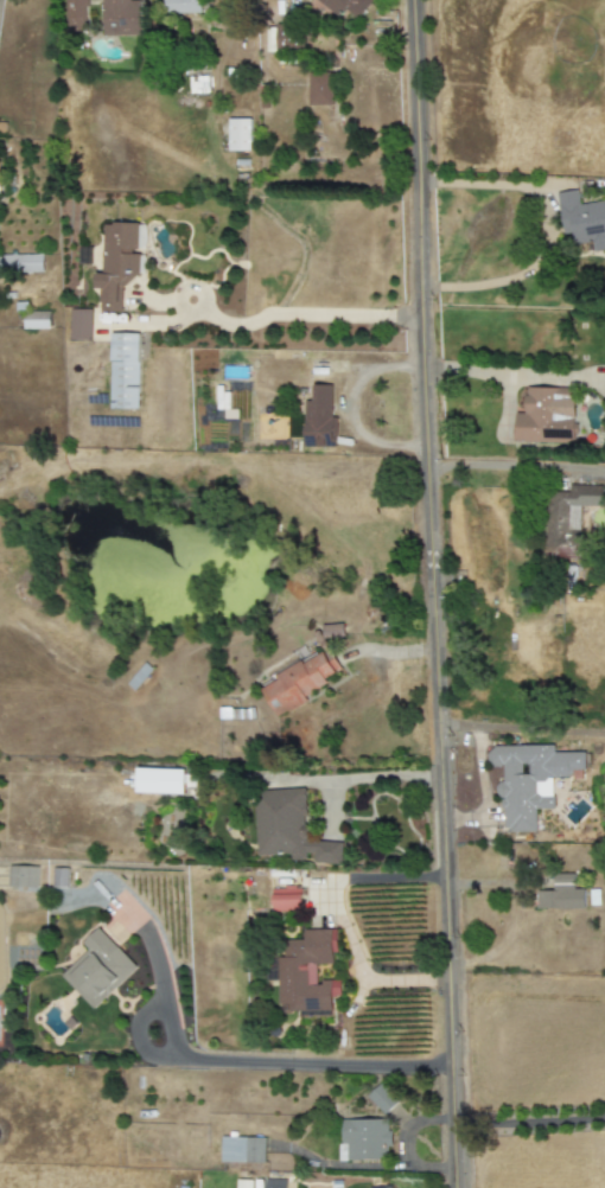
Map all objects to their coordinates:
building: (342, 6)
building: (181, 9)
building: (76, 17)
building: (120, 19)
building: (320, 82)
building: (197, 84)
building: (240, 139)
road: (511, 183)
building: (584, 225)
building: (114, 264)
building: (23, 266)
road: (520, 273)
road: (302, 317)
building: (36, 320)
building: (79, 325)
building: (122, 372)
road: (511, 373)
road: (351, 407)
building: (319, 419)
building: (544, 419)
road: (514, 471)
building: (567, 519)
road: (429, 594)
building: (332, 631)
building: (136, 677)
building: (302, 677)
building: (237, 716)
road: (521, 729)
road: (375, 777)
building: (177, 786)
building: (523, 787)
building: (288, 831)
building: (24, 874)
building: (63, 876)
building: (561, 893)
building: (286, 900)
building: (125, 918)
building: (97, 970)
building: (306, 971)
building: (1, 1024)
road: (247, 1064)
building: (380, 1098)
road: (529, 1124)
building: (364, 1138)
building: (242, 1149)
road: (369, 1165)
building: (274, 1183)

